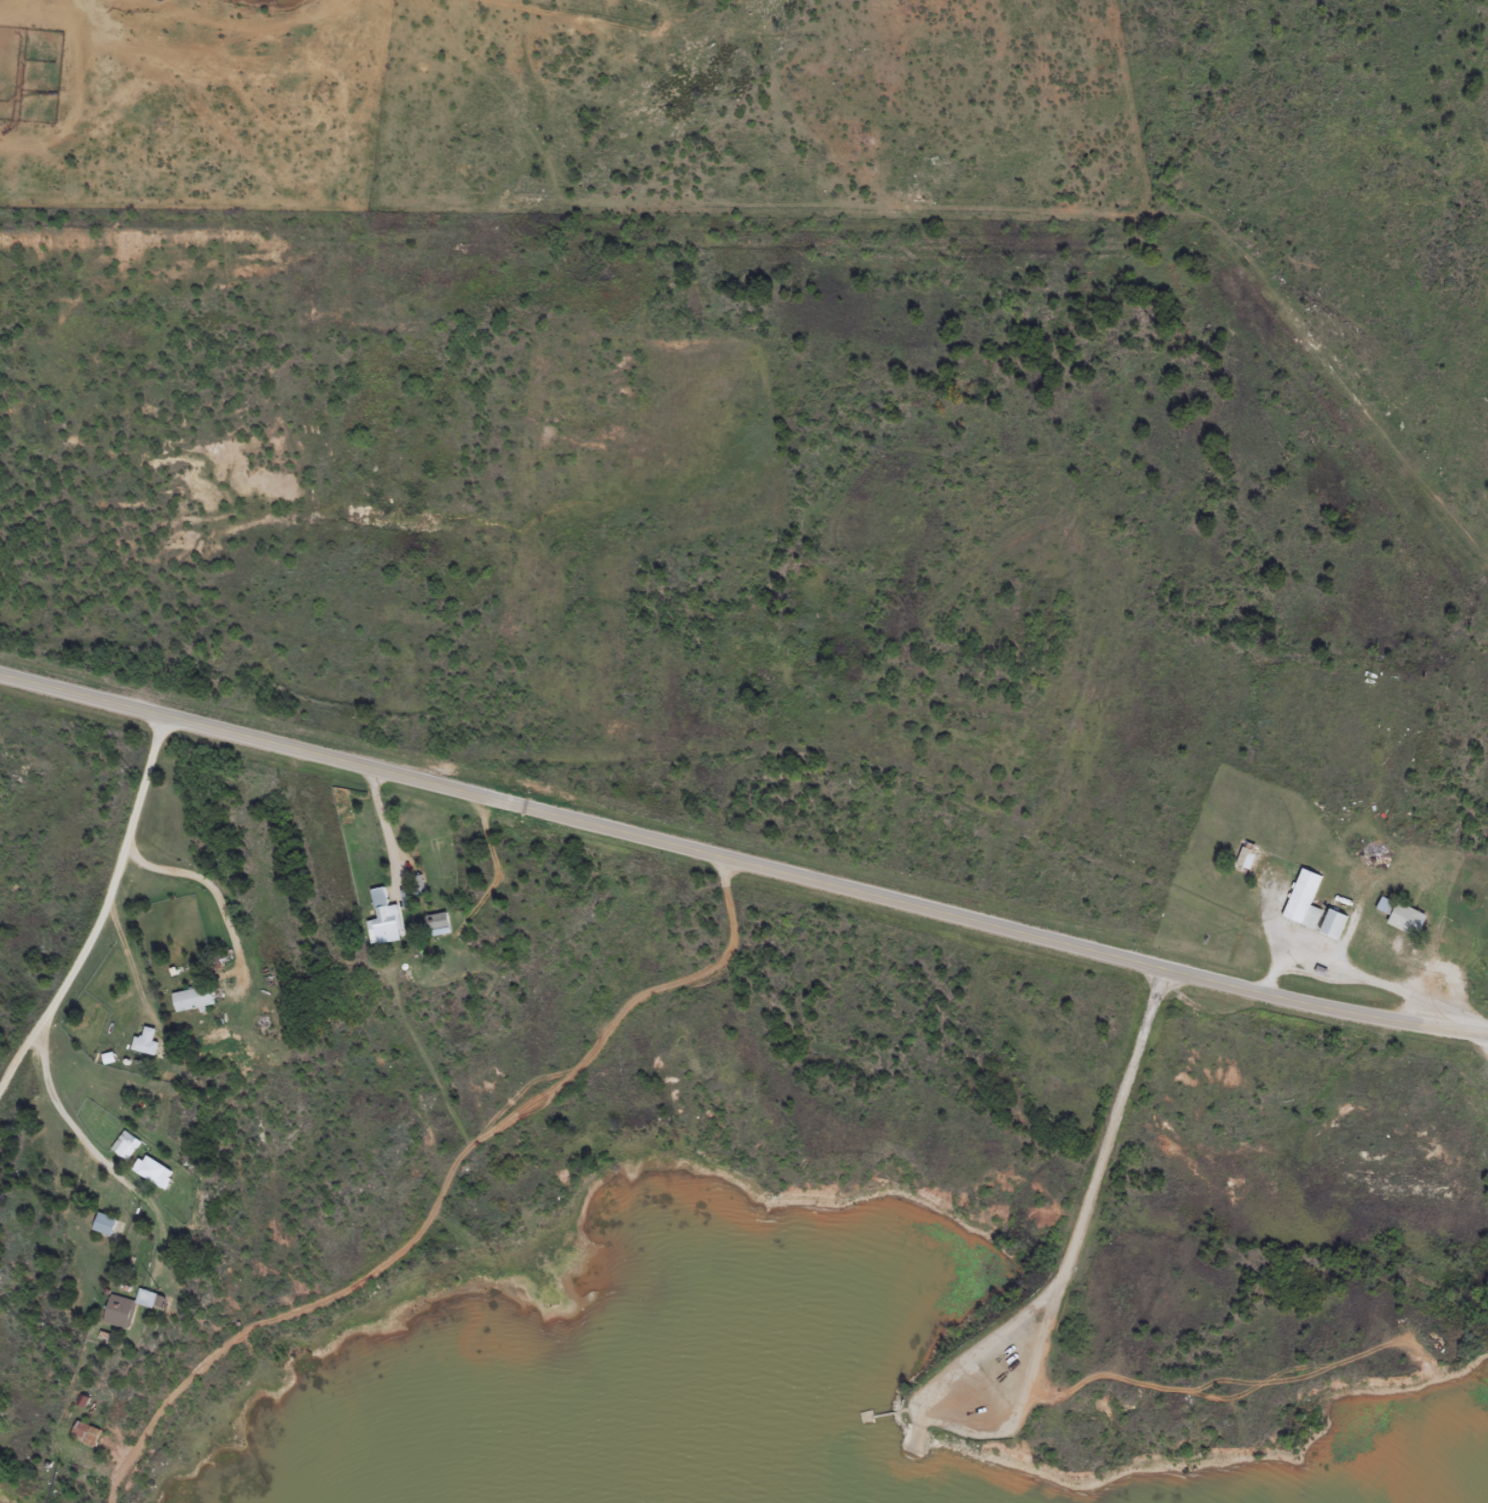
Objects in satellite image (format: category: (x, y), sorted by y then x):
road: (222, 27)
road: (820, 255)
road: (933, 790)
building: (1243, 856)
road: (742, 861)
building: (413, 884)
building: (1301, 898)
road: (103, 914)
building: (1399, 914)
building: (381, 918)
building: (434, 922)
building: (190, 997)
building: (256, 1013)
building: (141, 1040)
road: (1130, 1122)
road: (72, 1124)
building: (124, 1143)
building: (149, 1170)
building: (19, 1200)
building: (104, 1228)
building: (126, 1305)
building: (82, 1432)

